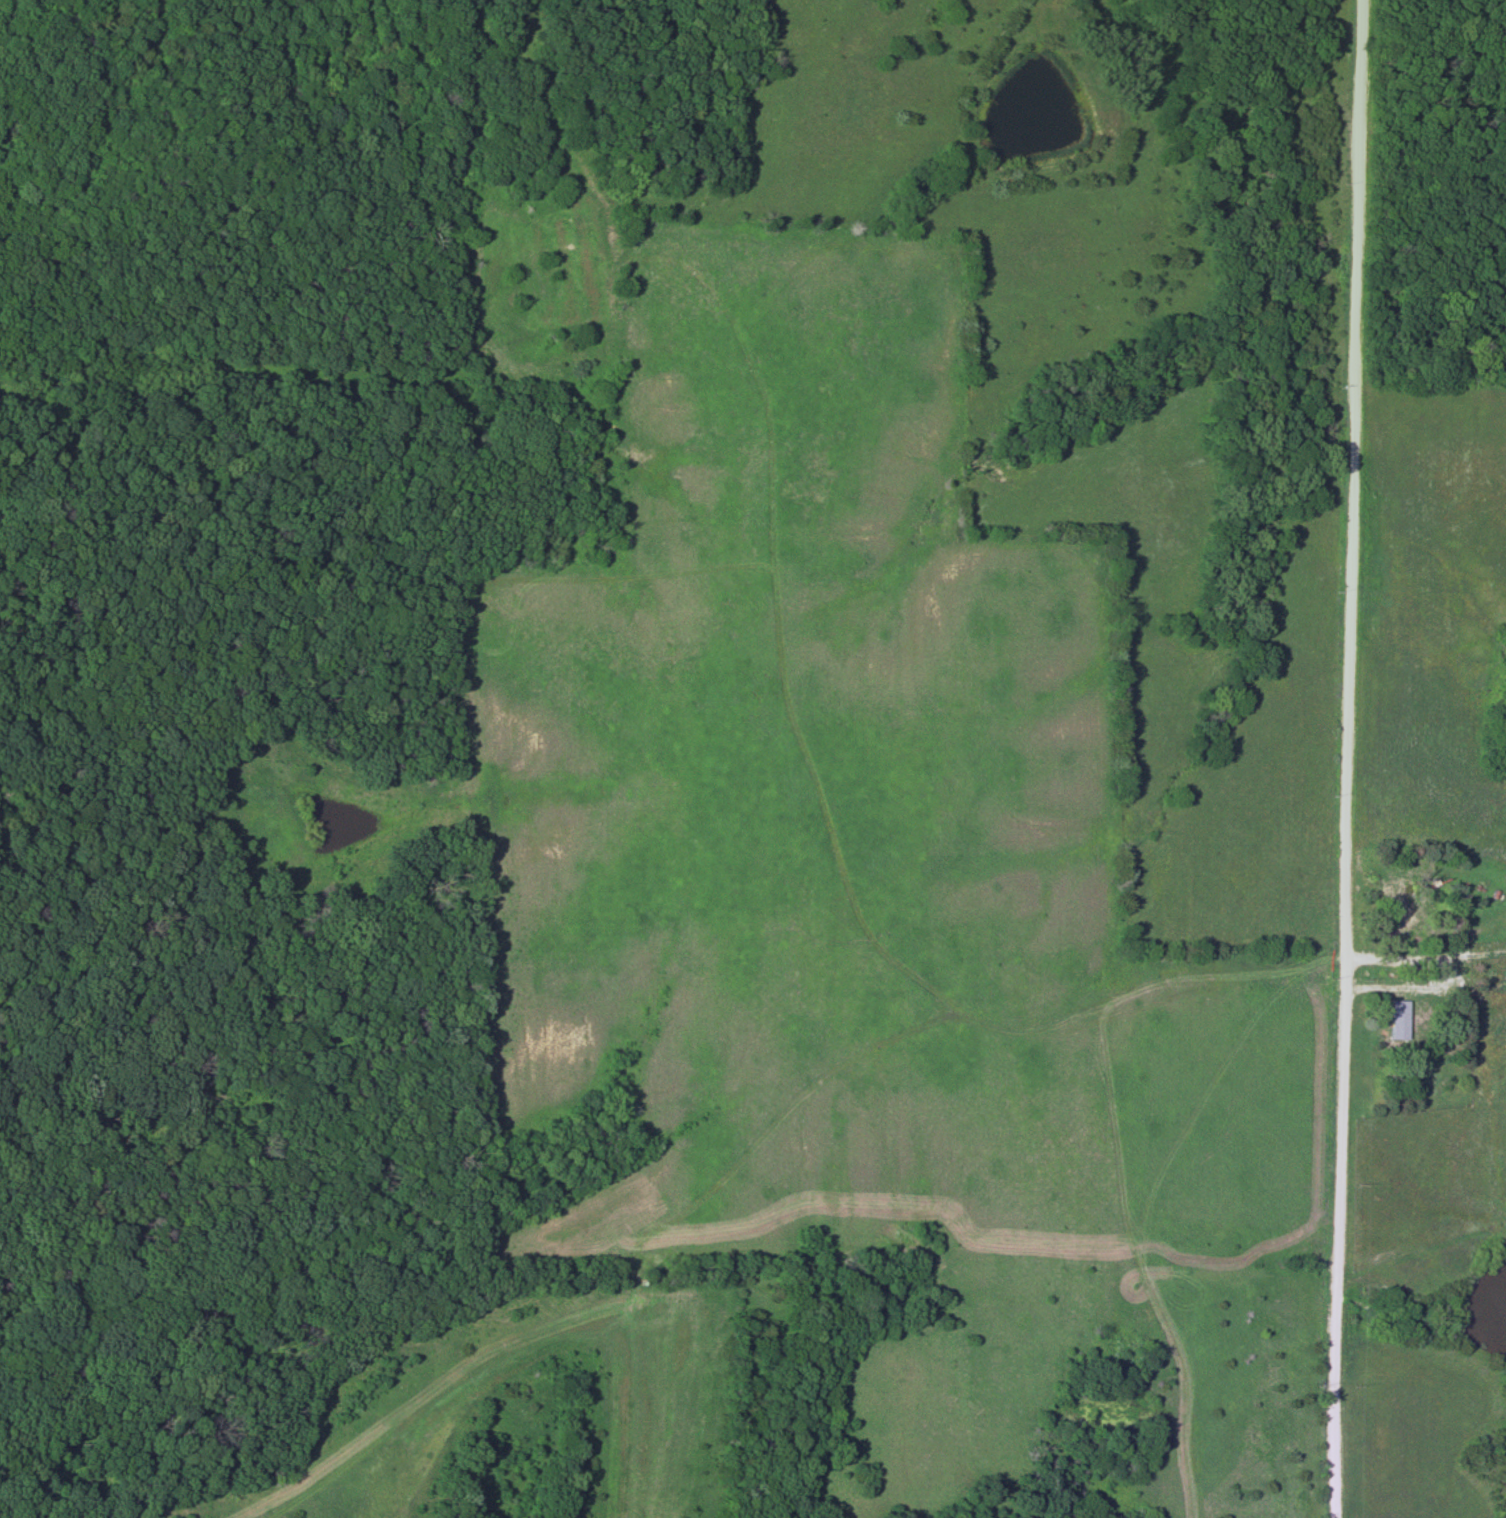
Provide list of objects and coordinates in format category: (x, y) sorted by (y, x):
road: (1356, 759)
building: (1402, 918)
building: (1398, 1022)

